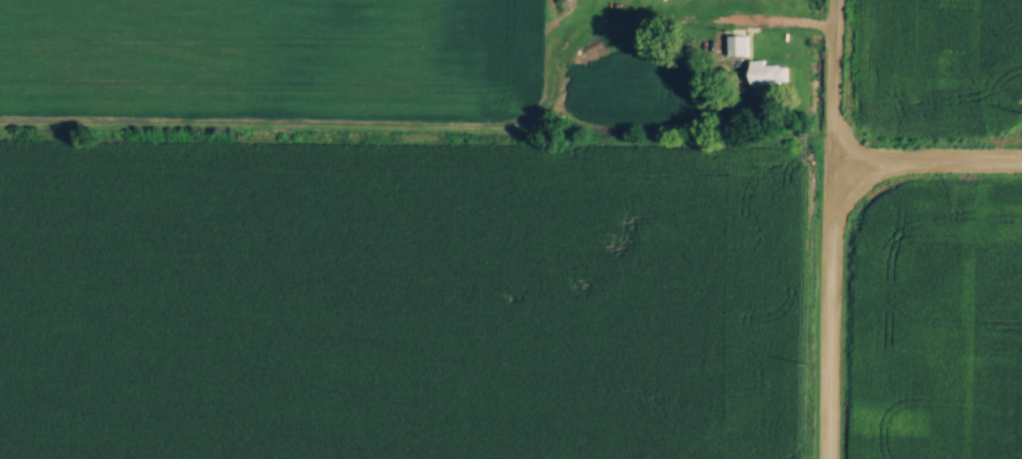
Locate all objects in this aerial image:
road: (766, 18)
building: (736, 42)
building: (767, 70)
road: (831, 81)
road: (925, 161)
road: (826, 311)

